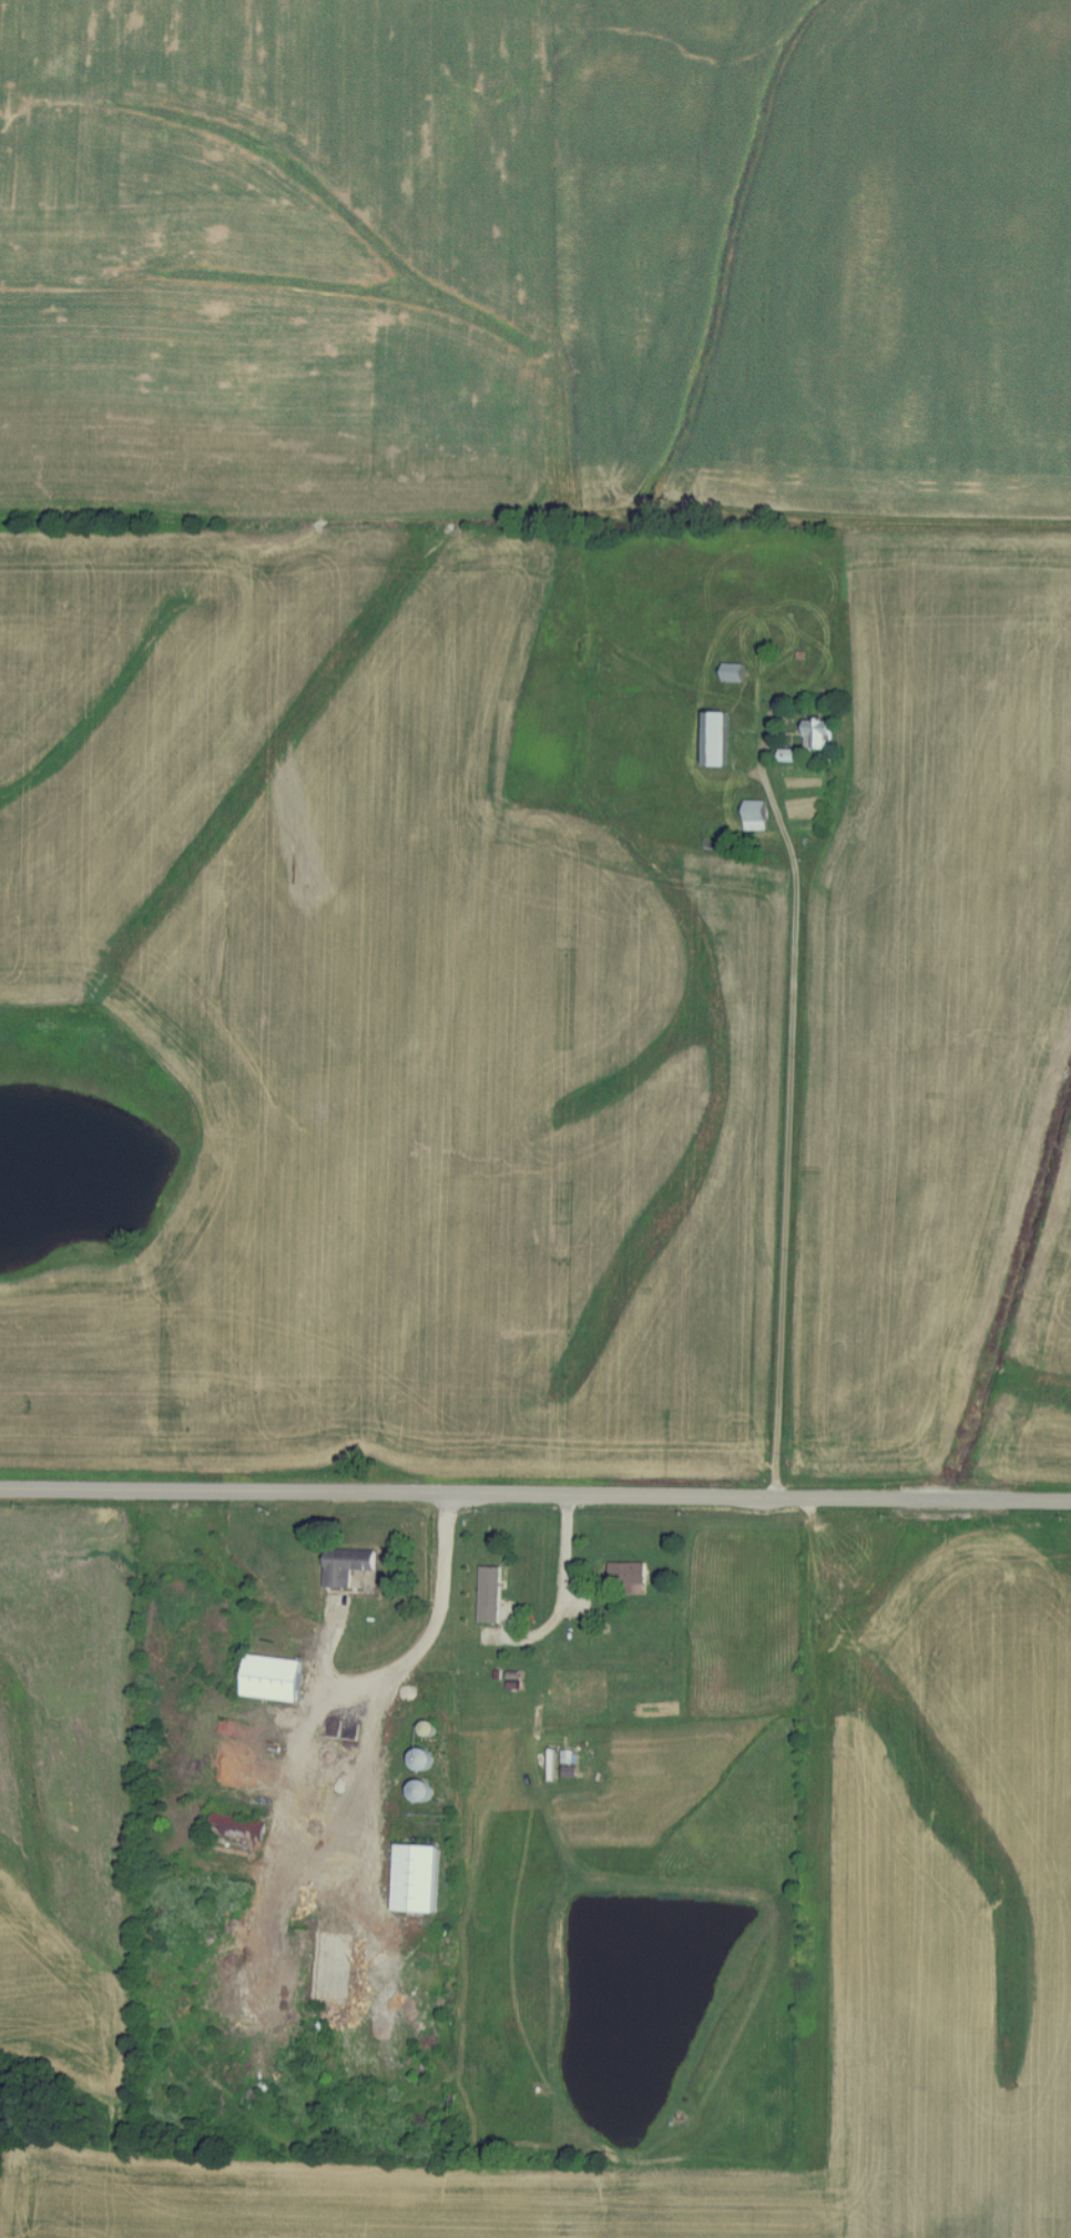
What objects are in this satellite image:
building: (733, 671)
building: (817, 732)
building: (717, 736)
building: (755, 813)
road: (798, 1077)
road: (534, 1493)
road: (568, 1547)
building: (347, 1565)
building: (628, 1576)
building: (497, 1598)
road: (435, 1627)
building: (272, 1677)
building: (420, 1758)
building: (304, 1808)
building: (236, 1825)
building: (417, 1875)

